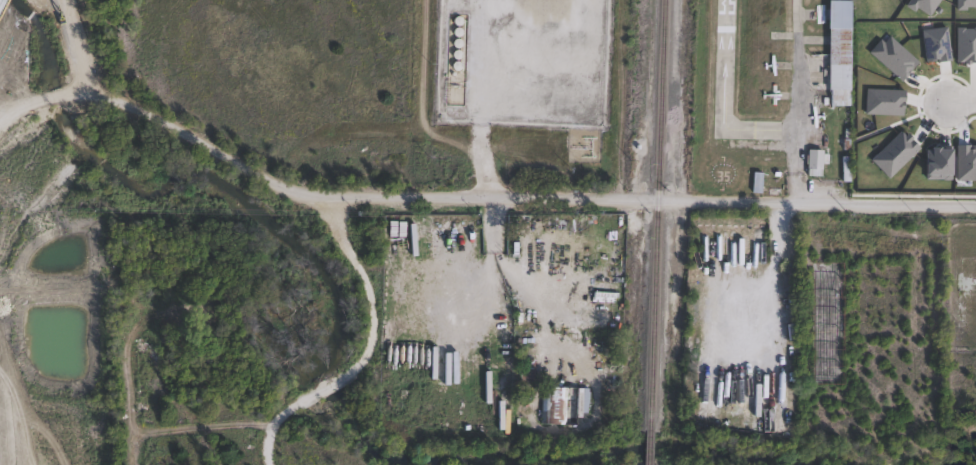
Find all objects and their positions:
building: (838, 51)
airport runway: (722, 65)
airport: (768, 97)
road: (480, 99)
airport taxiway: (794, 102)
road: (959, 102)
building: (814, 161)
building: (844, 168)
building: (756, 182)
road: (521, 199)
railway: (655, 215)
road: (488, 262)
road: (770, 283)
road: (367, 349)
building: (528, 378)
building: (496, 396)
building: (562, 404)
railway: (647, 447)

